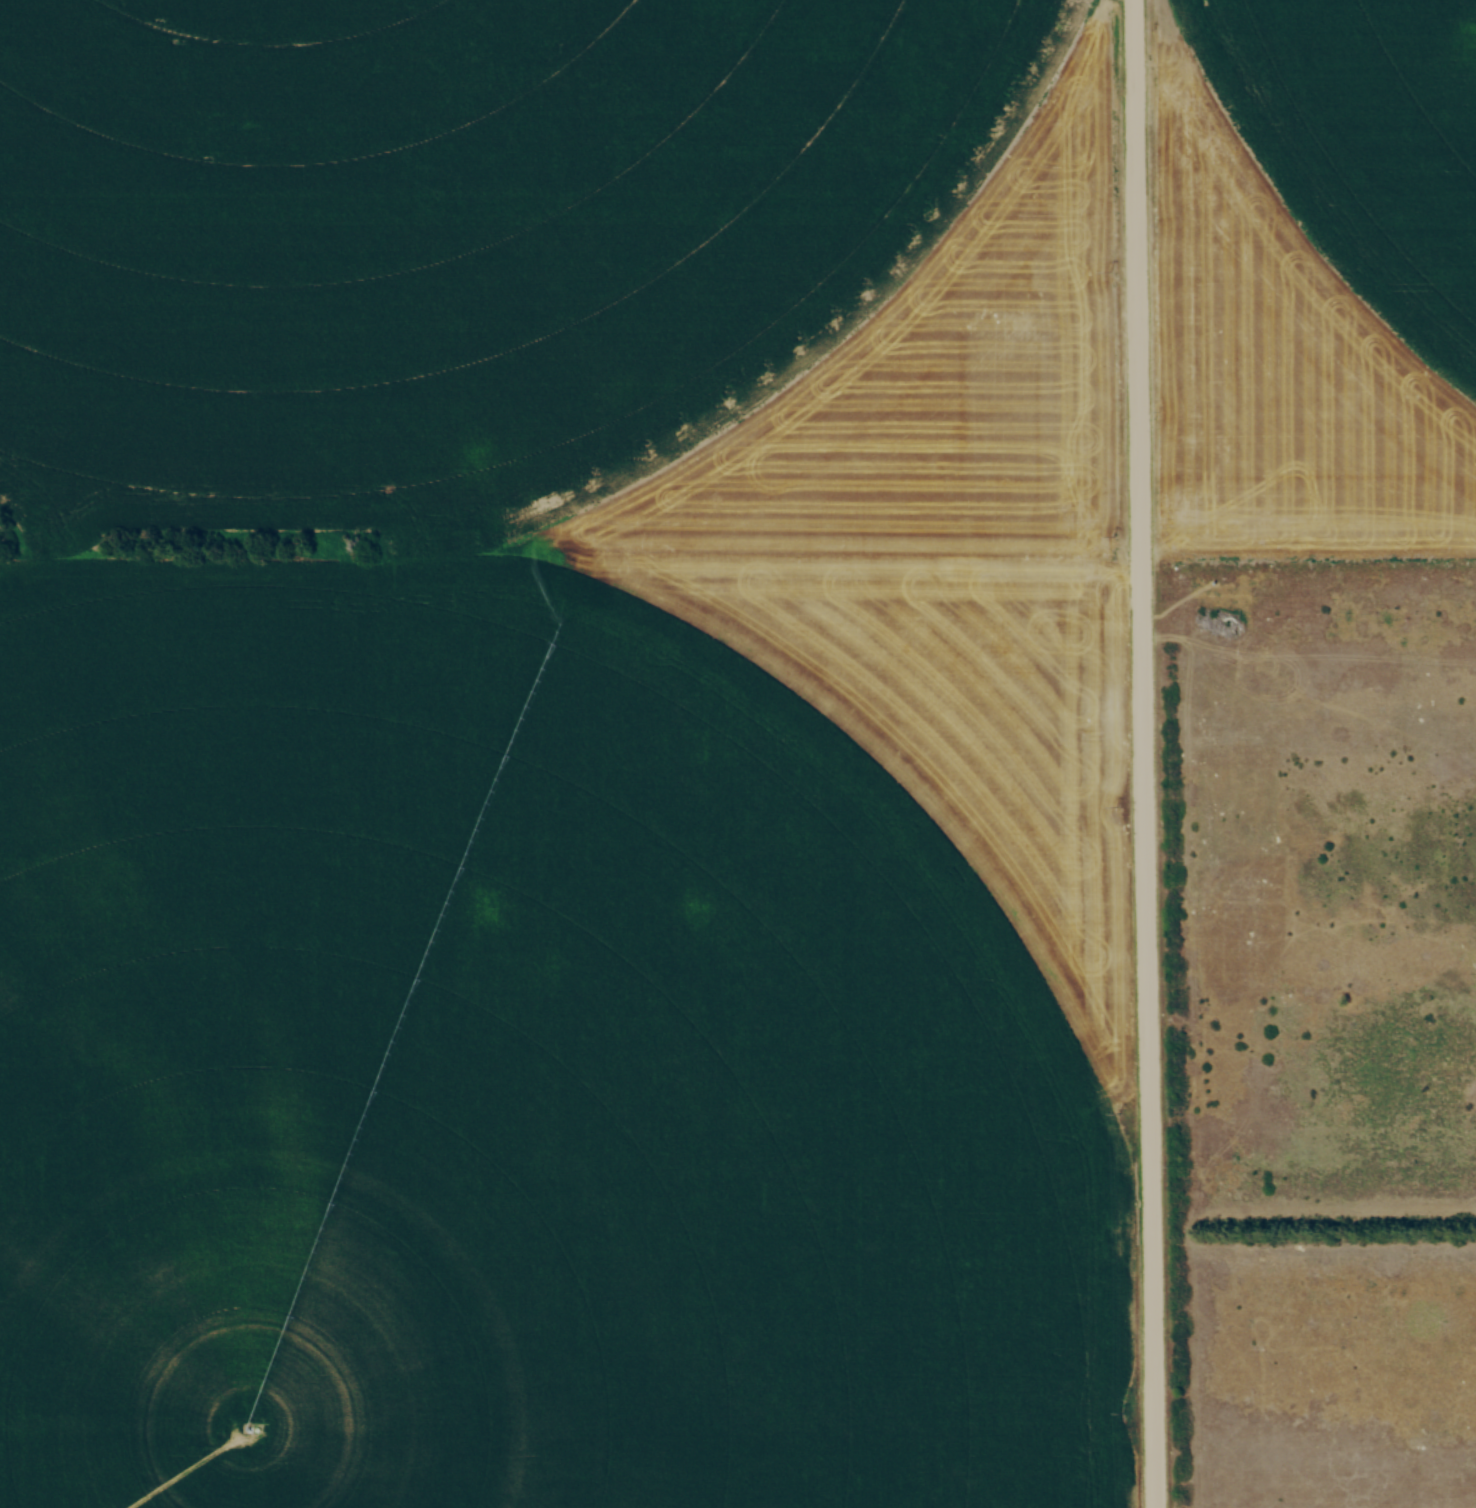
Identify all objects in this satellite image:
road: (1145, 754)

